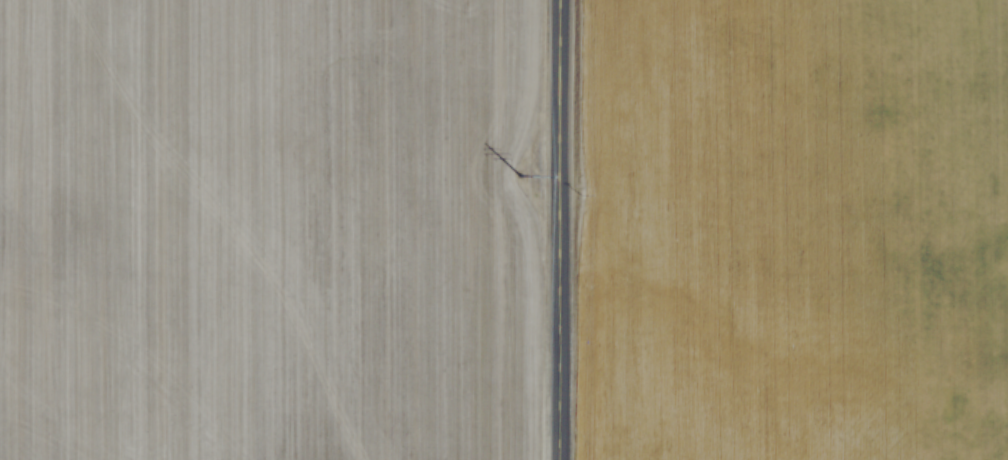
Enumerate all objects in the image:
power tower: (515, 173)
road: (553, 229)

